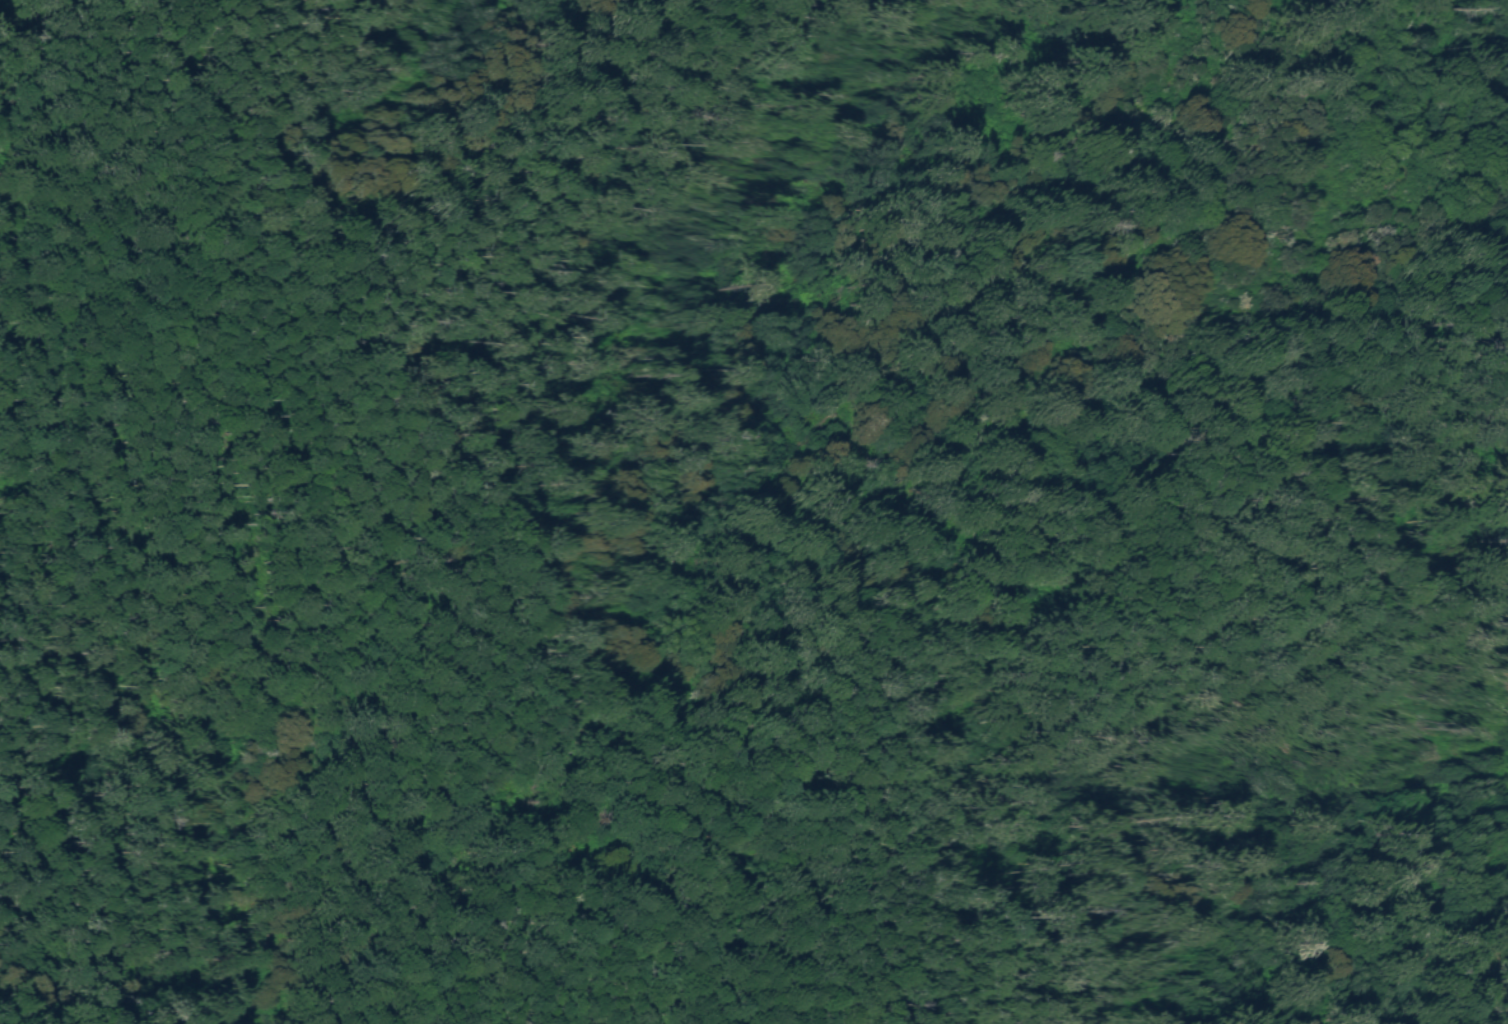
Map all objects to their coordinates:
road: (902, 673)
road: (738, 878)

